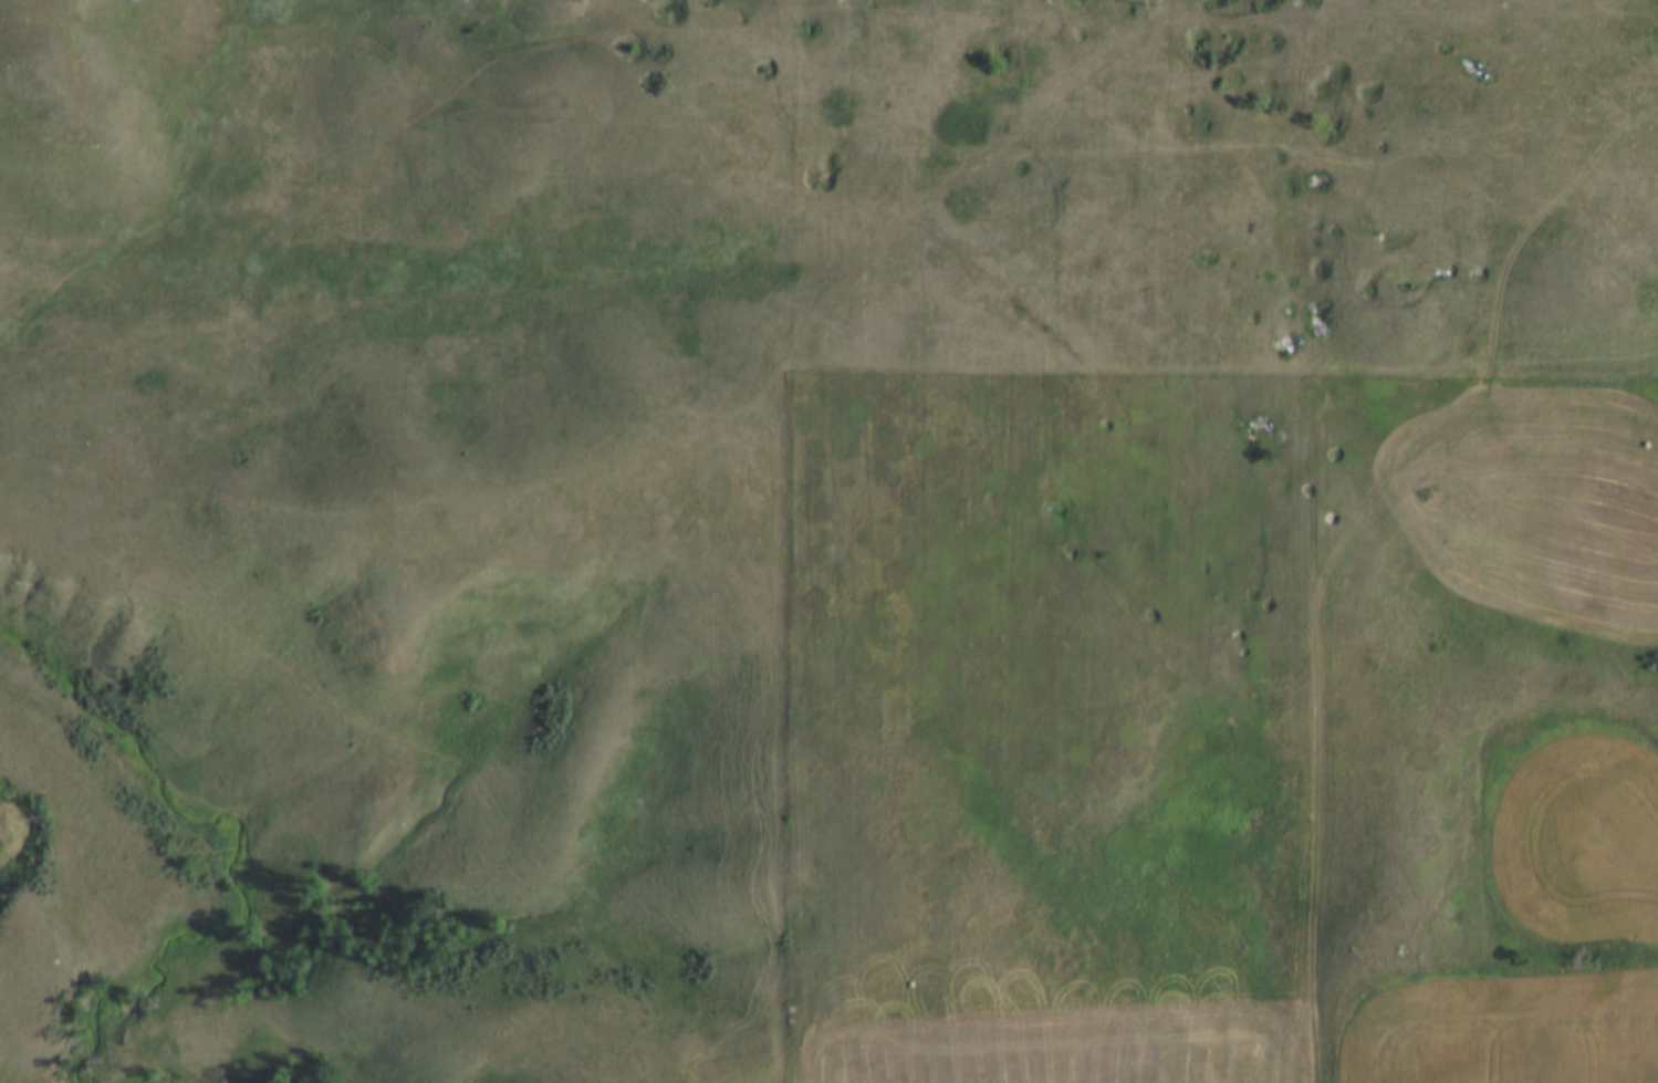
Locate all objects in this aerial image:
road: (1310, 490)

